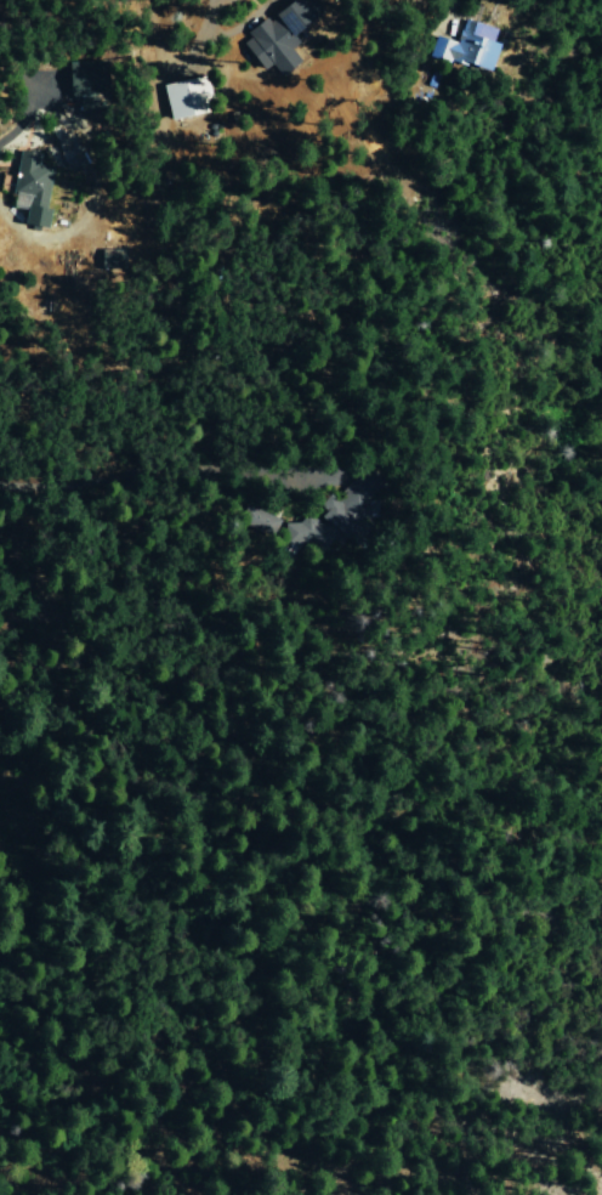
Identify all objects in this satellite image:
building: (276, 38)
building: (466, 46)
building: (183, 100)
building: (30, 192)
building: (322, 527)

